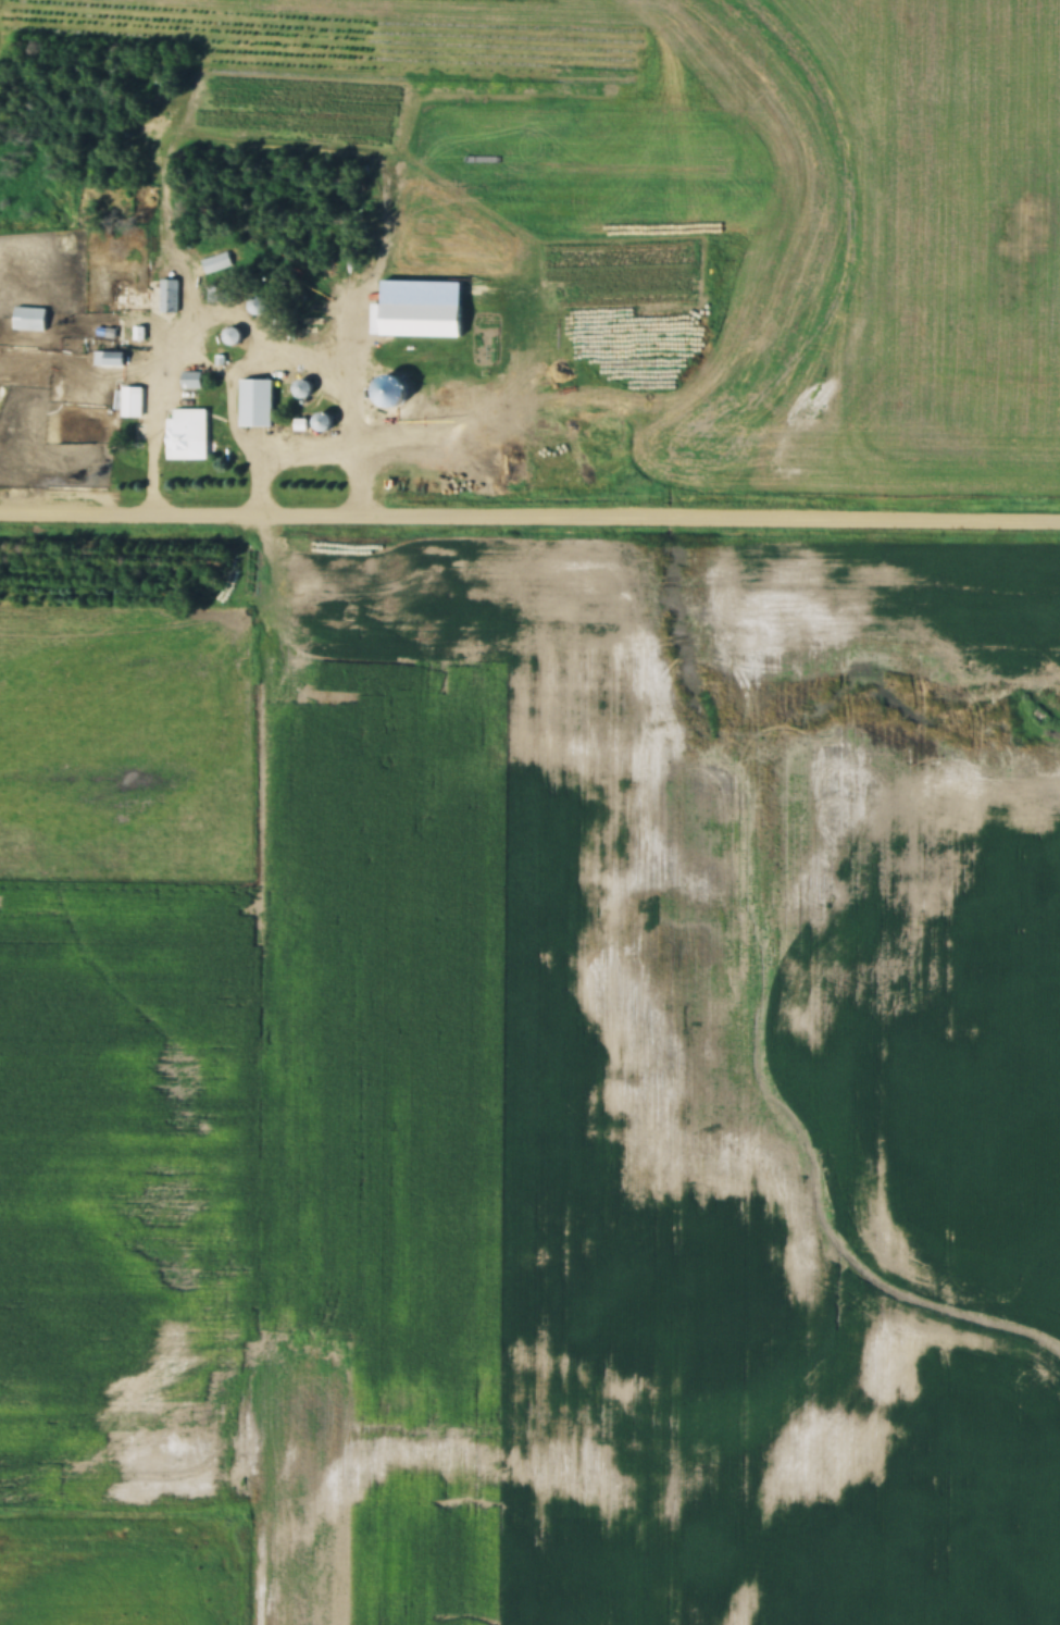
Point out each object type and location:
building: (121, 295)
building: (170, 295)
building: (257, 305)
road: (241, 317)
building: (30, 319)
building: (423, 319)
building: (233, 335)
building: (122, 353)
building: (192, 380)
building: (133, 401)
building: (258, 402)
building: (186, 432)
road: (284, 457)
road: (529, 512)

